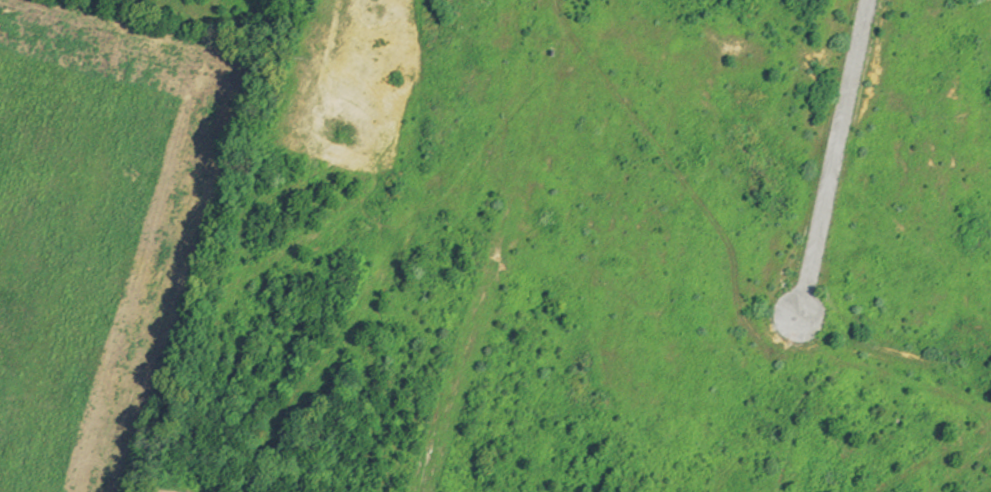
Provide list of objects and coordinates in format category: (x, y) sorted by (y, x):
road: (840, 155)

